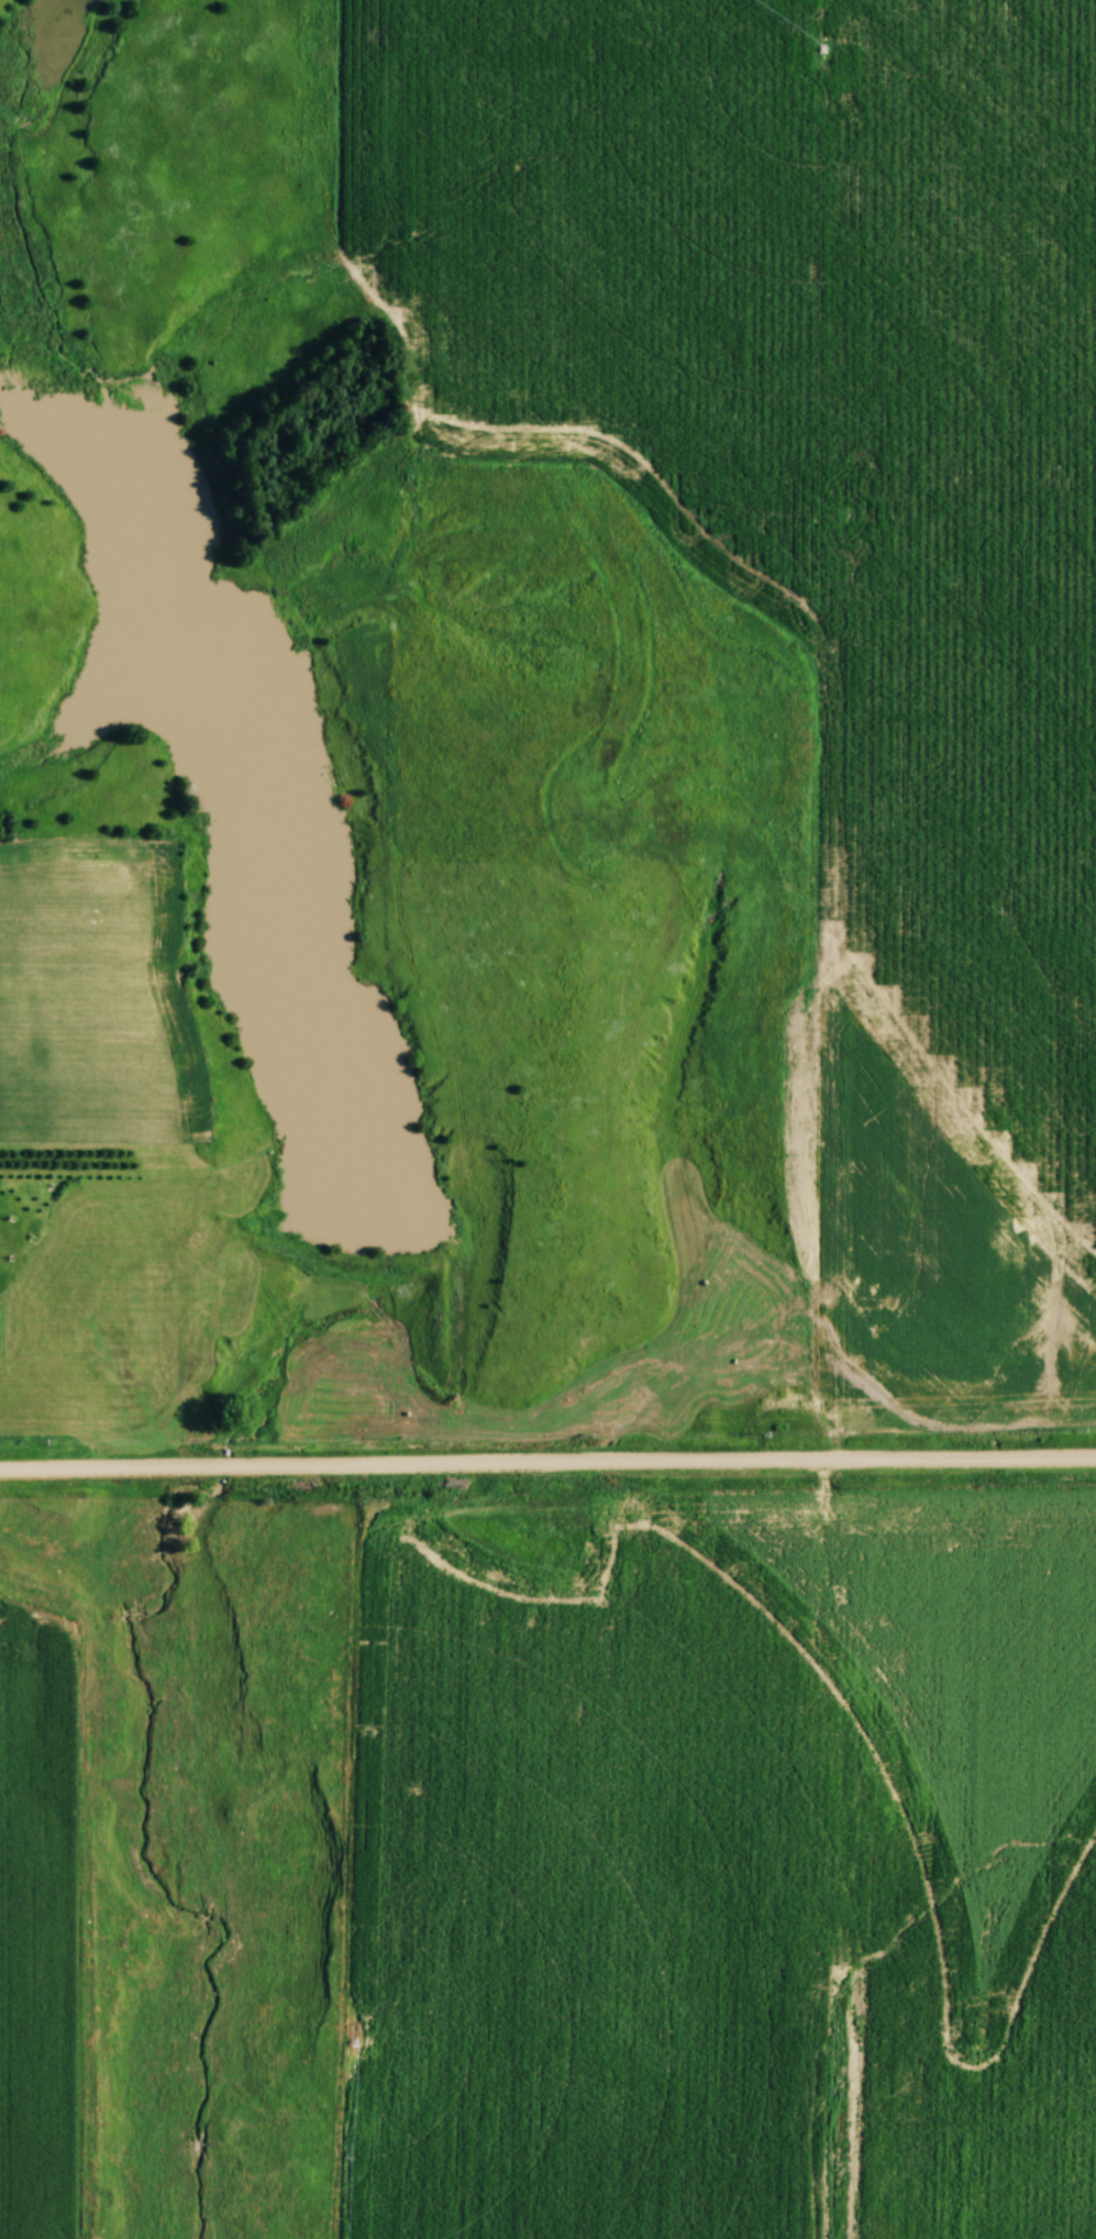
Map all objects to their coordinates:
crop: (612, 245)
road: (547, 1464)

